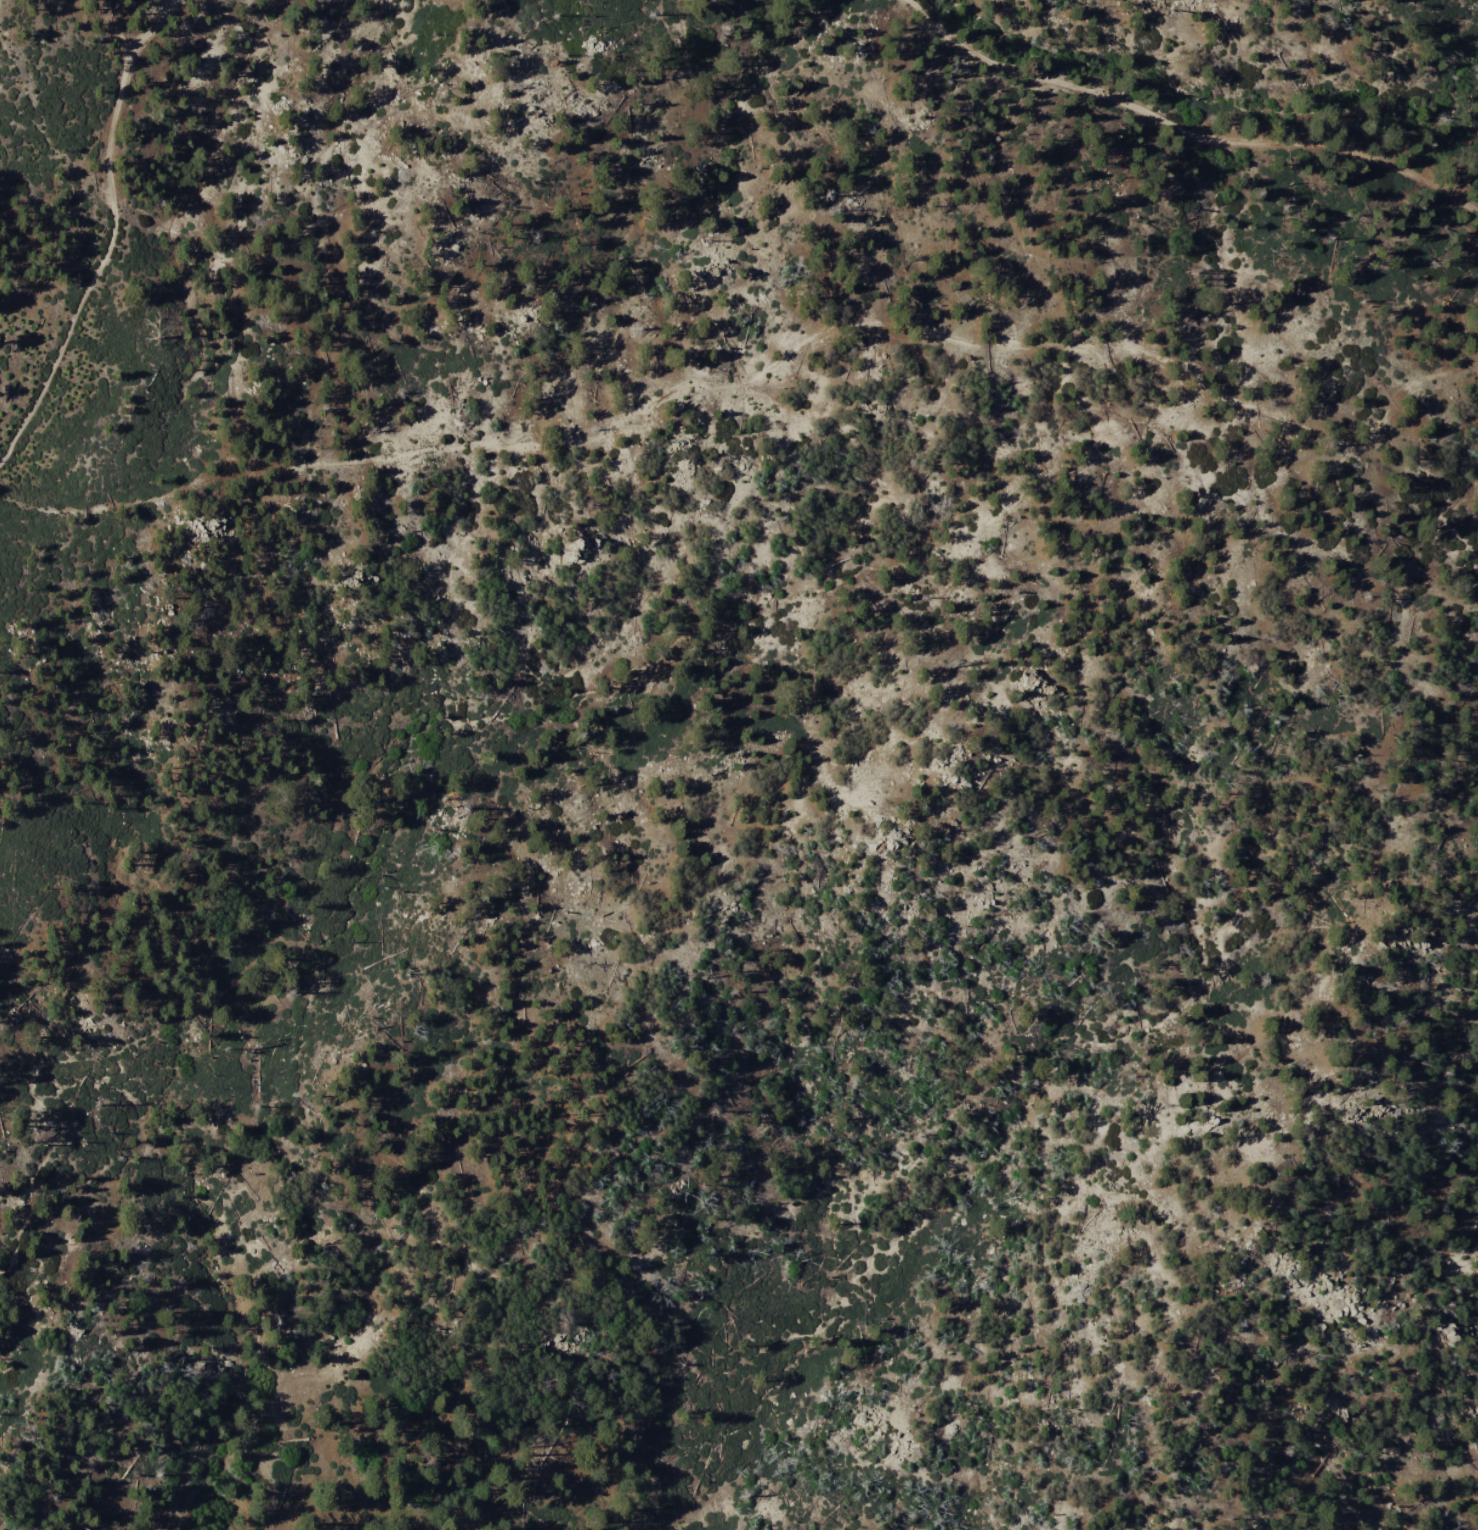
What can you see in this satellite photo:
road: (115, 112)
road: (1183, 128)
road: (60, 349)
road: (150, 1032)

